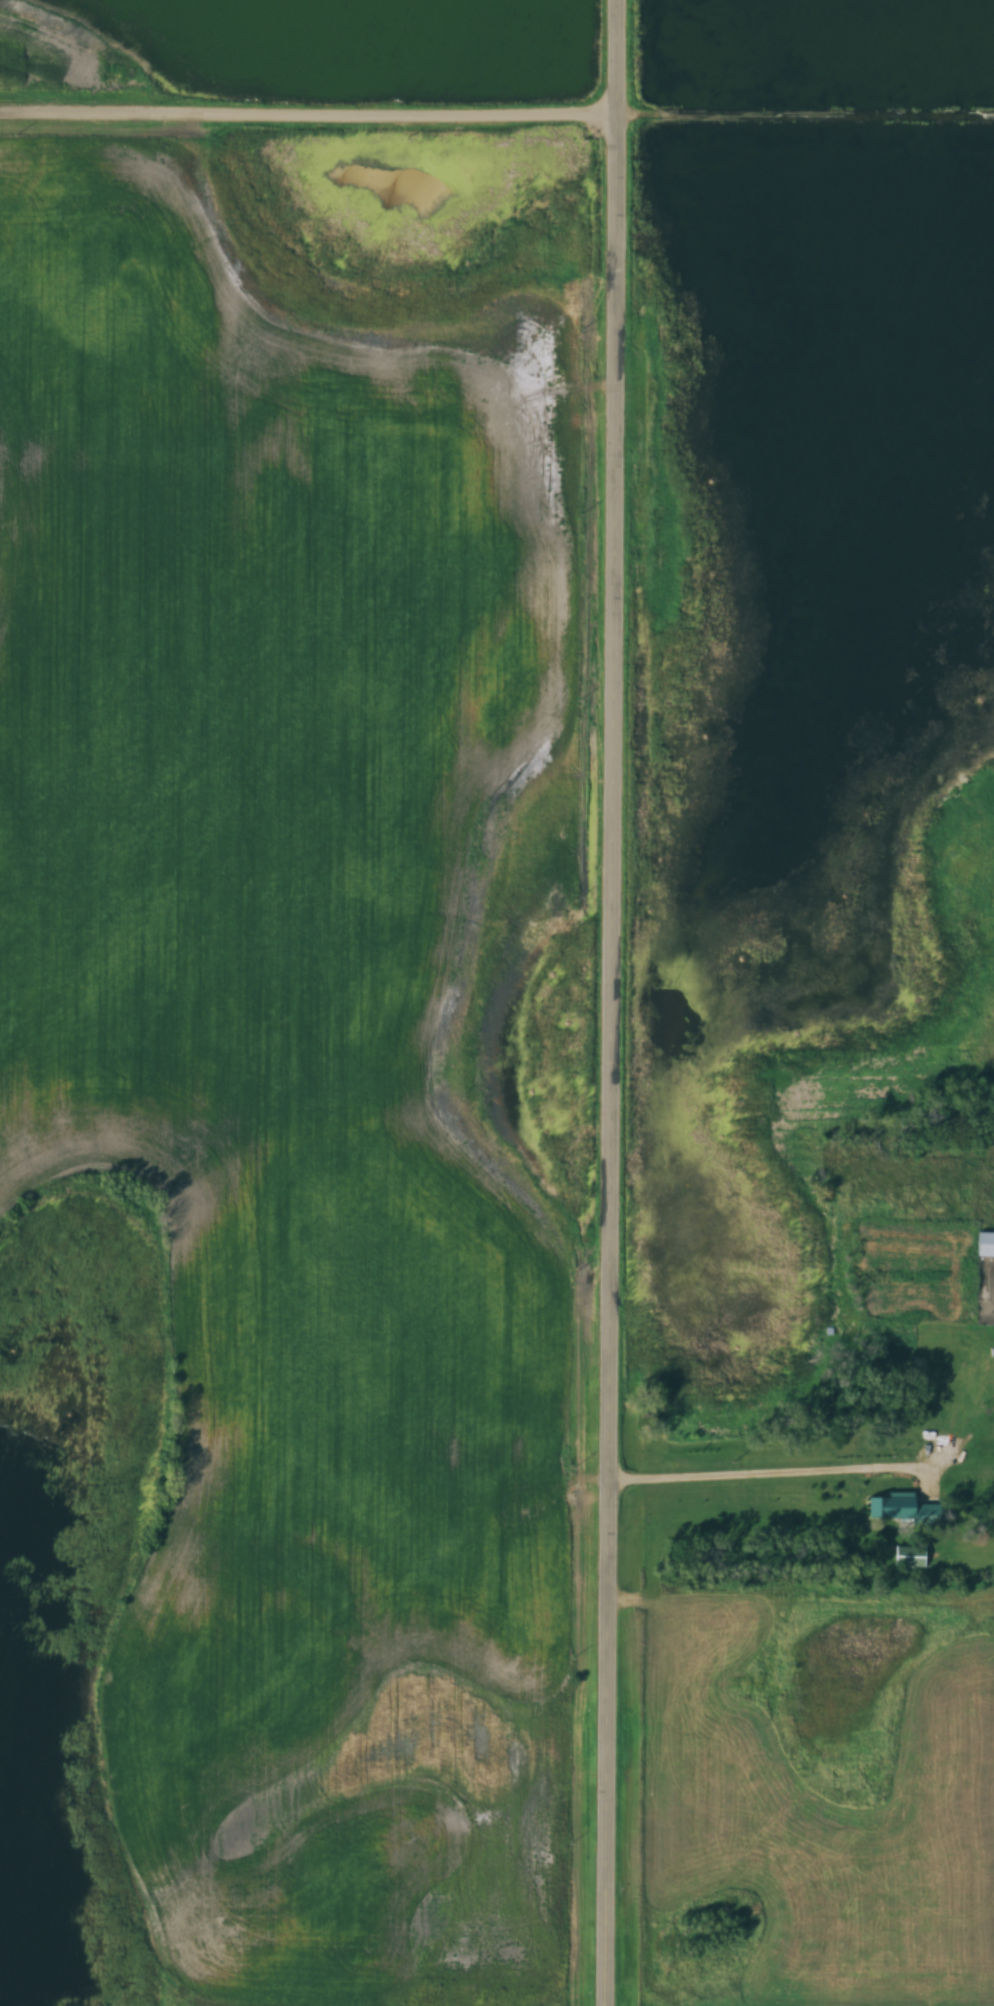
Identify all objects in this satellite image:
road: (497, 111)
road: (612, 1003)
building: (986, 1240)
building: (900, 1506)
building: (912, 1556)

